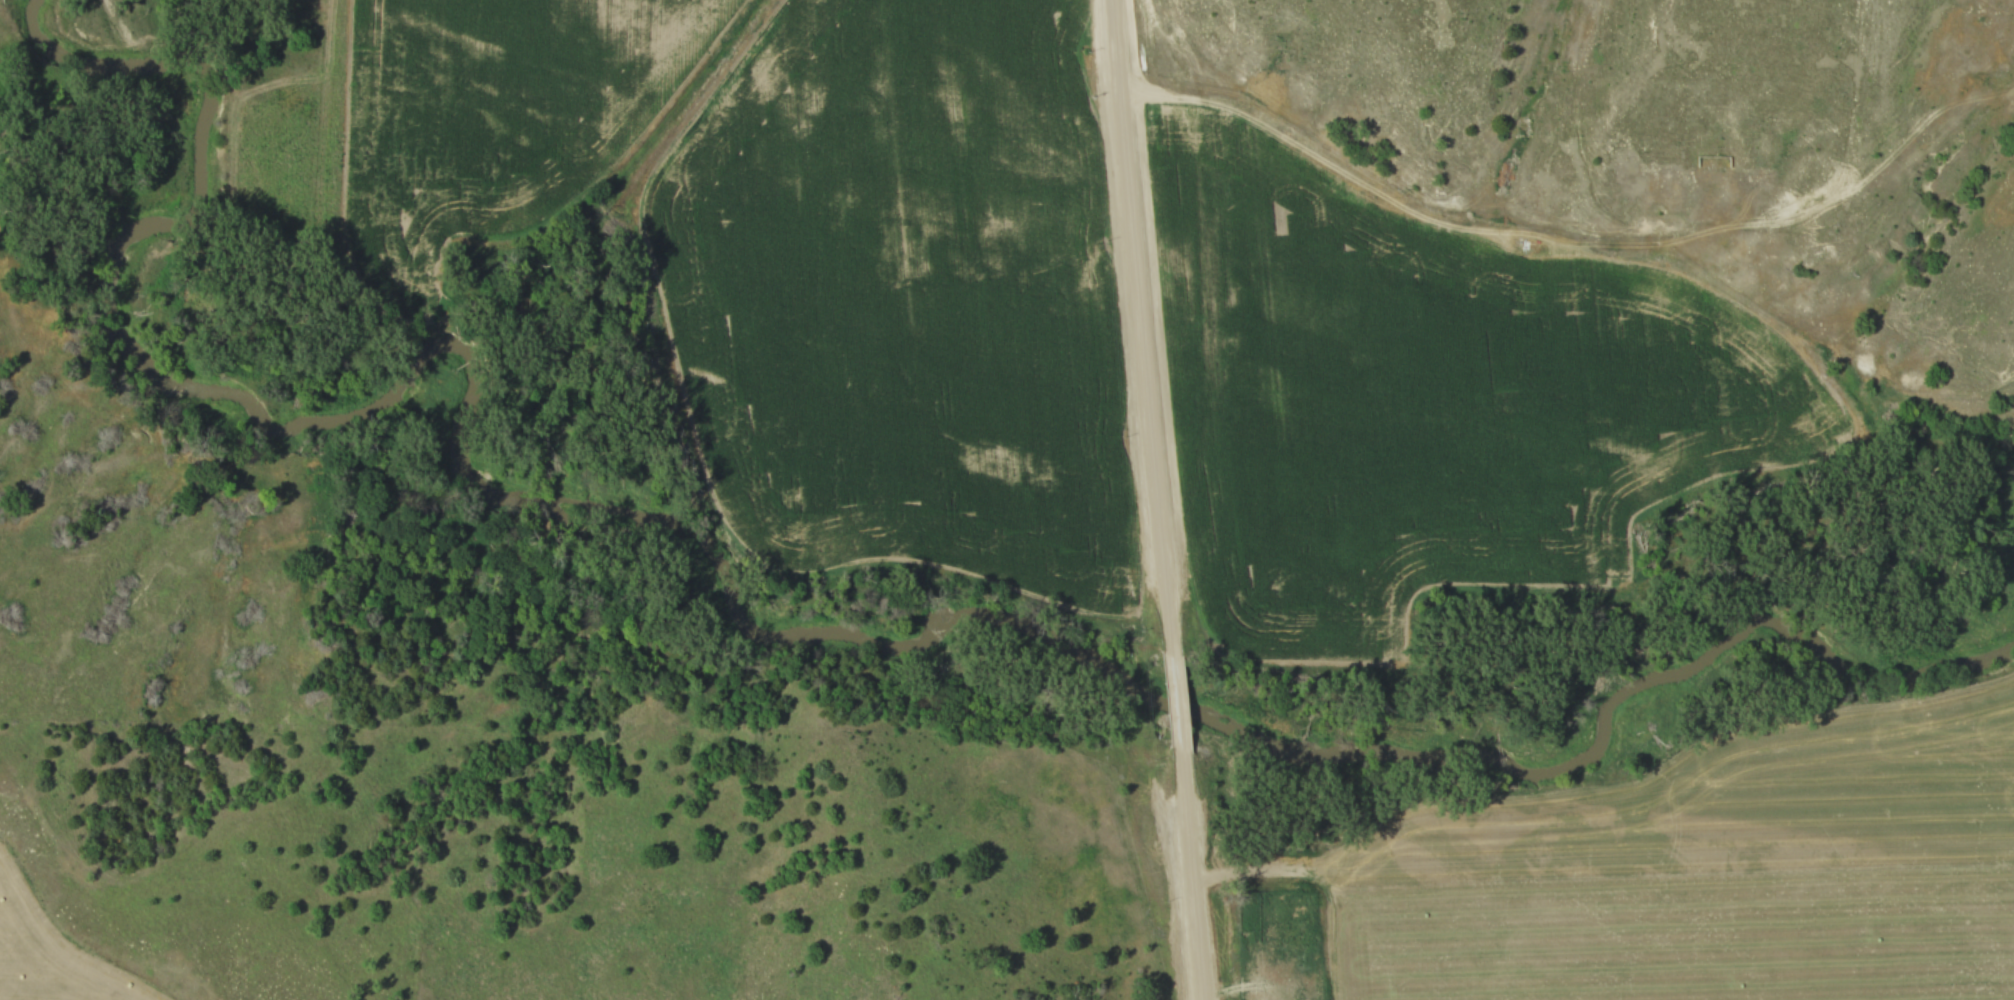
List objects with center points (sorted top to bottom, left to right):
crop: (481, 117)
crop: (904, 293)
road: (1142, 325)
crop: (1427, 391)
road: (1178, 697)
crop: (1734, 801)
road: (1193, 872)
crop: (45, 945)

